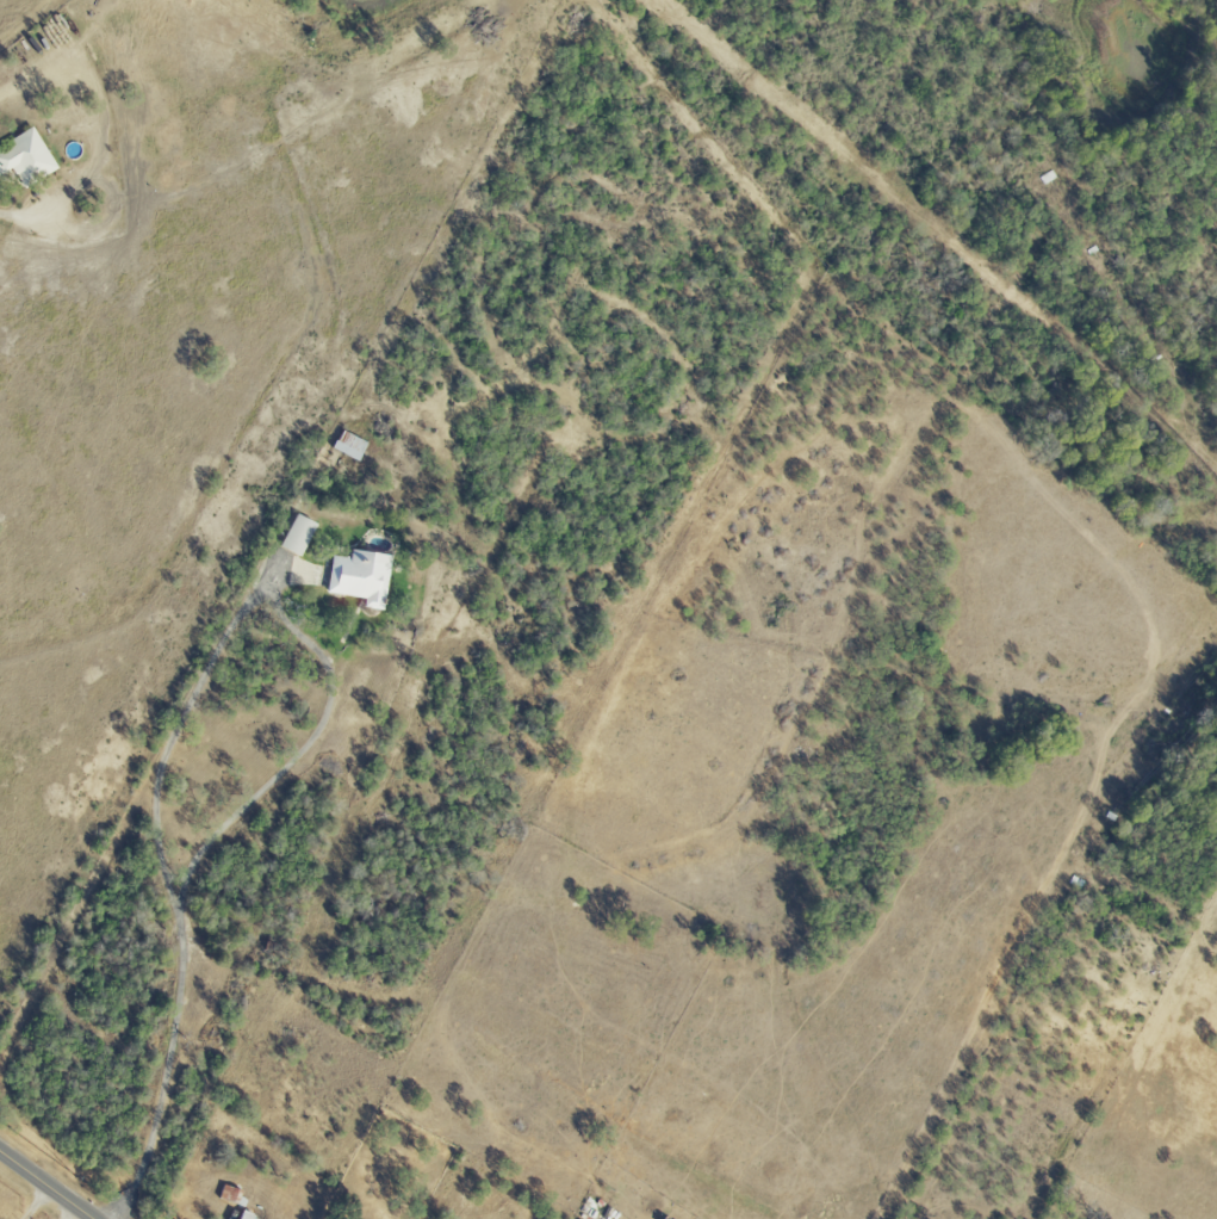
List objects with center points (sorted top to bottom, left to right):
building: (27, 159)
building: (352, 445)
building: (299, 534)
building: (362, 576)
road: (284, 627)
road: (169, 1063)
road: (46, 1184)
building: (230, 1194)
road: (35, 1202)
road: (70, 1212)
building: (248, 1213)

